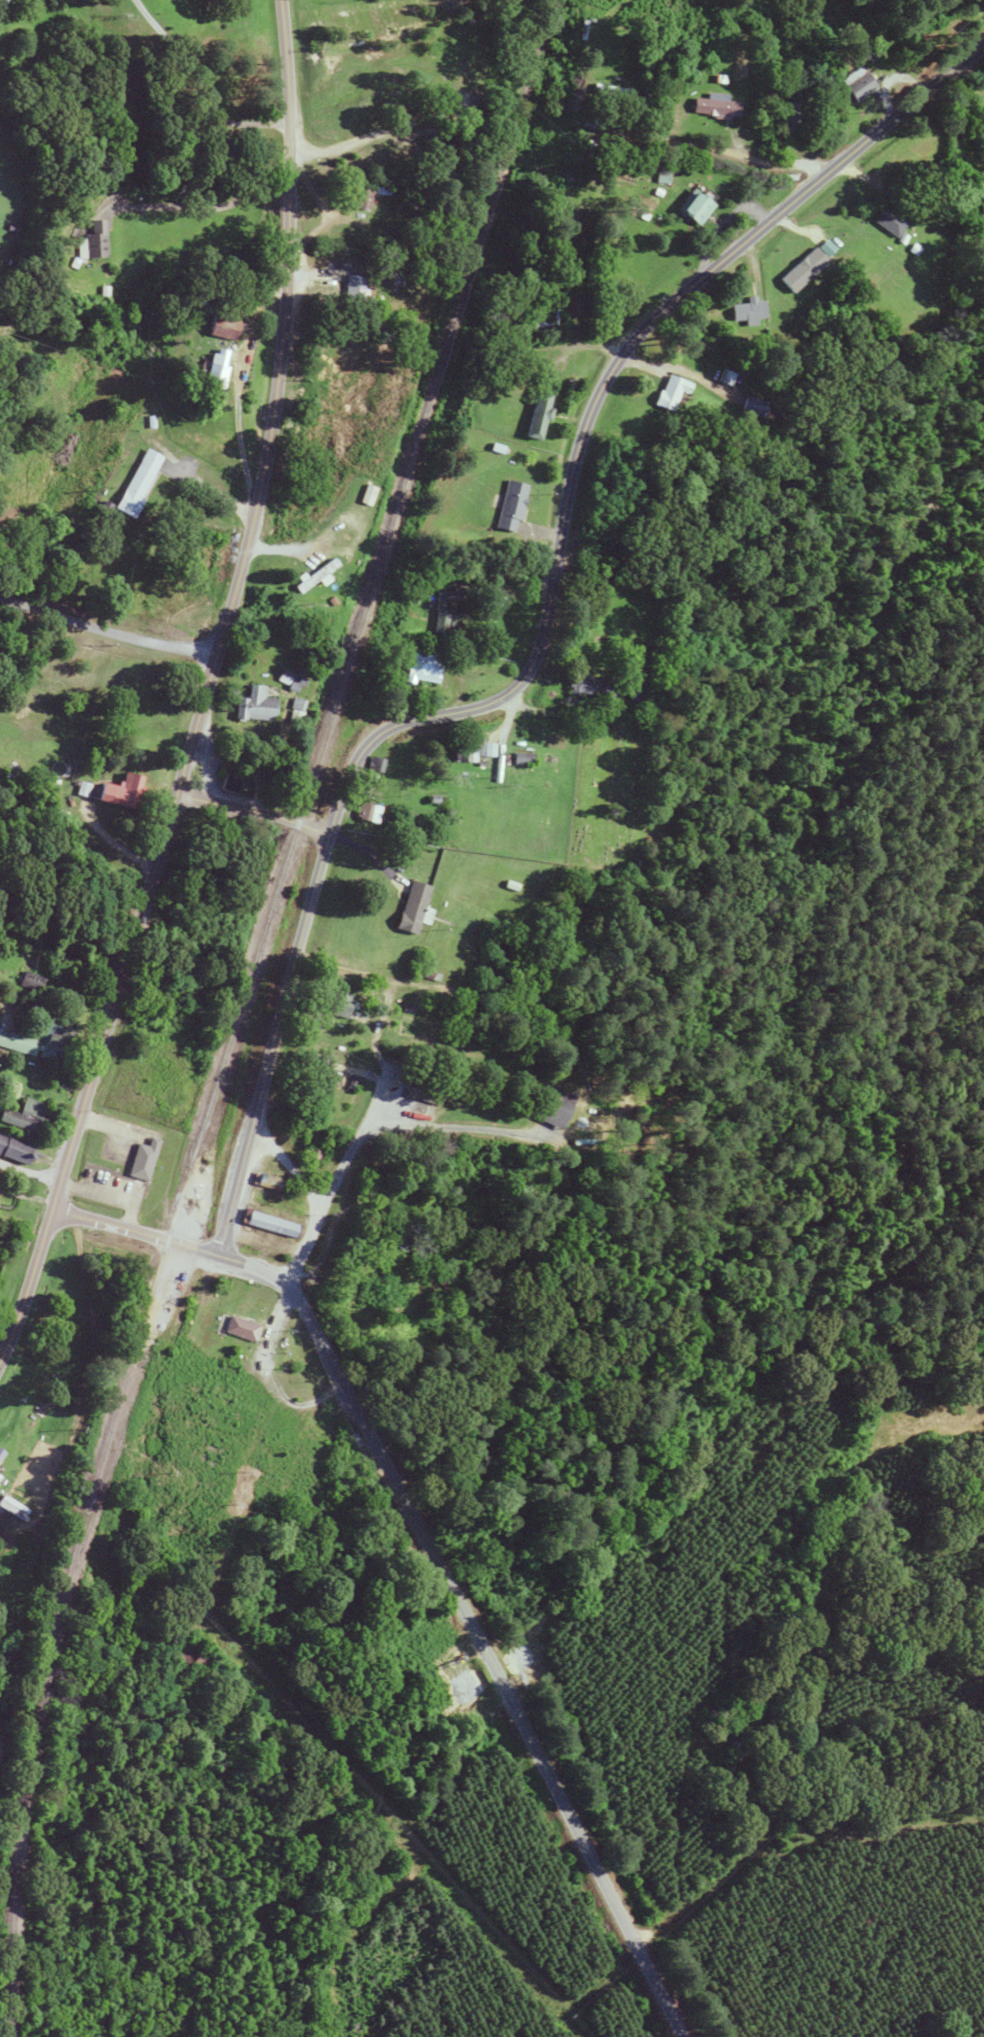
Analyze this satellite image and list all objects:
building: (855, 83)
road: (197, 91)
building: (611, 92)
building: (718, 108)
building: (792, 117)
building: (367, 195)
building: (697, 208)
building: (888, 222)
building: (91, 245)
building: (802, 270)
building: (397, 273)
building: (352, 292)
building: (744, 310)
building: (545, 318)
building: (208, 374)
building: (668, 392)
building: (746, 407)
building: (535, 416)
building: (133, 483)
building: (509, 507)
building: (313, 576)
building: (440, 616)
road: (107, 631)
road: (544, 631)
building: (420, 665)
building: (588, 686)
road: (206, 692)
building: (252, 706)
building: (470, 750)
building: (523, 759)
building: (376, 764)
building: (231, 786)
building: (113, 792)
road: (253, 812)
building: (370, 813)
building: (411, 908)
building: (25, 981)
building: (336, 1004)
railway: (240, 1010)
building: (36, 1043)
building: (315, 1072)
building: (420, 1090)
building: (552, 1107)
building: (26, 1116)
road: (372, 1125)
building: (316, 1149)
building: (13, 1150)
building: (142, 1159)
road: (29, 1173)
building: (268, 1182)
building: (271, 1225)
road: (136, 1233)
building: (369, 1289)
building: (240, 1328)
building: (224, 1368)
building: (3, 1457)
road: (470, 1626)
building: (187, 1658)

